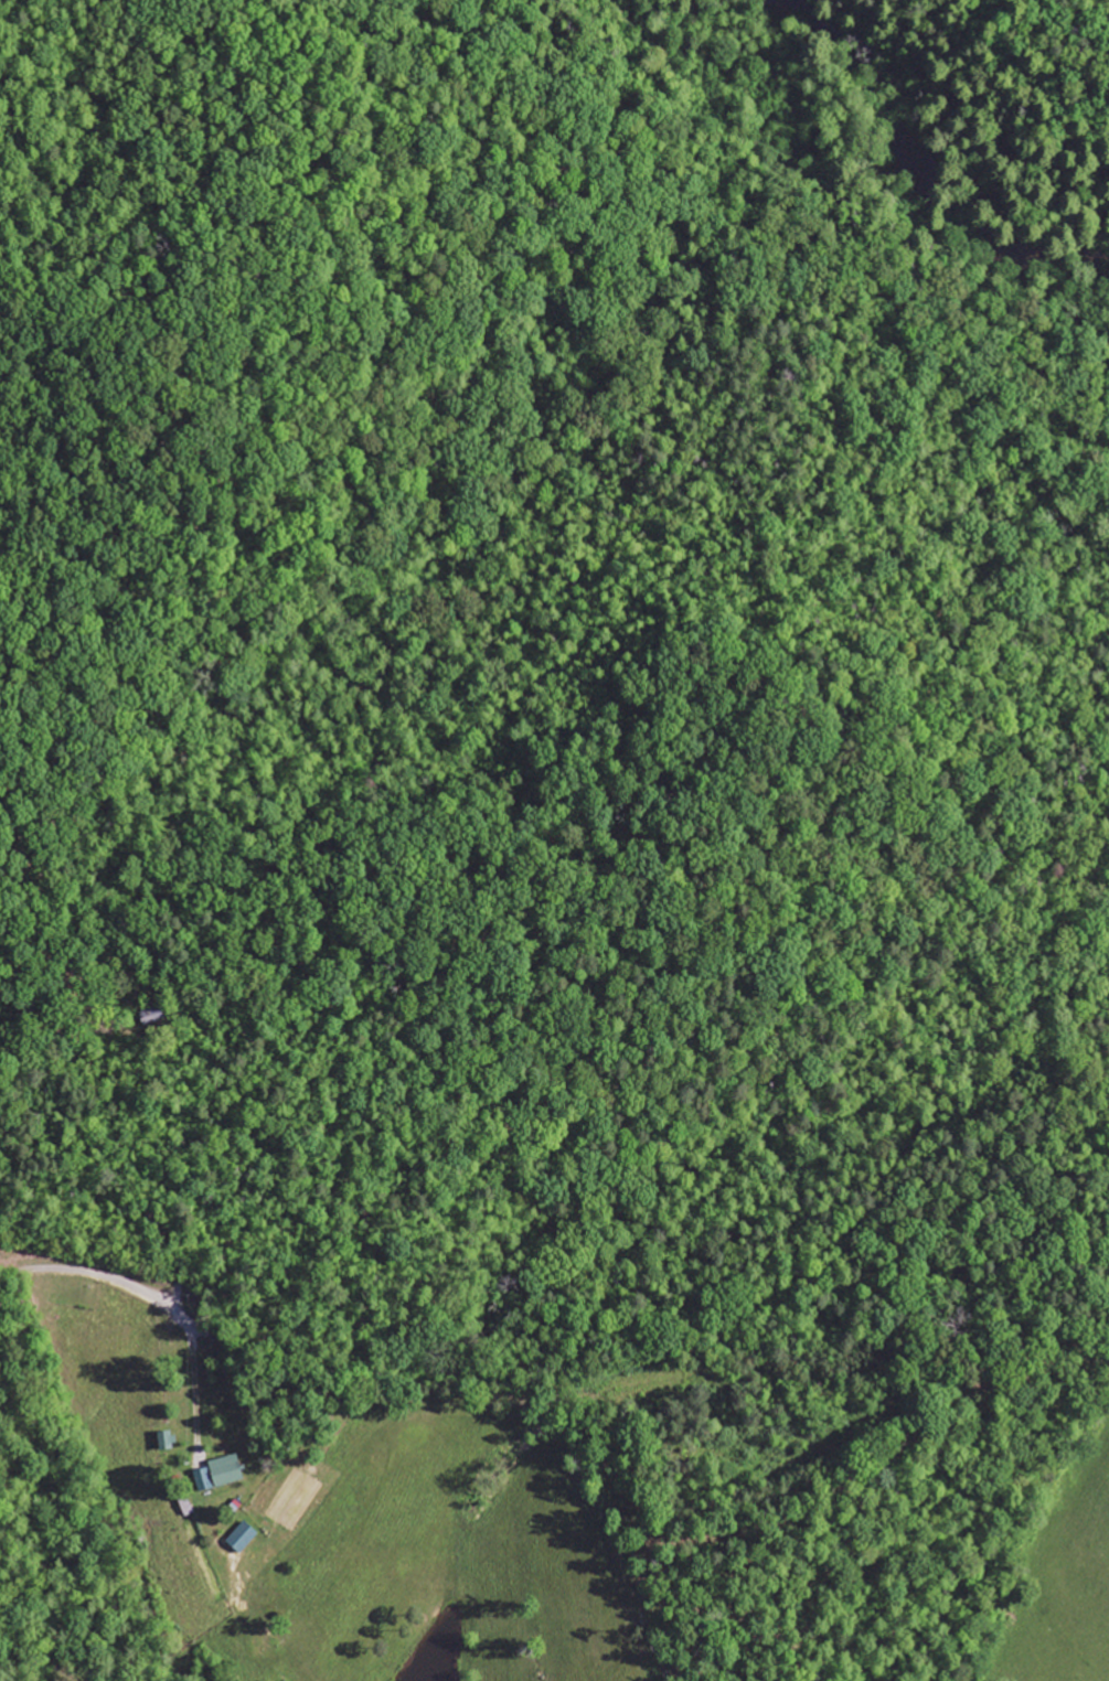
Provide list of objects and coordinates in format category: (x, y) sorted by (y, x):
park: (974, 114)
building: (152, 1017)
road: (135, 1286)
building: (167, 1441)
building: (218, 1475)
building: (243, 1538)

